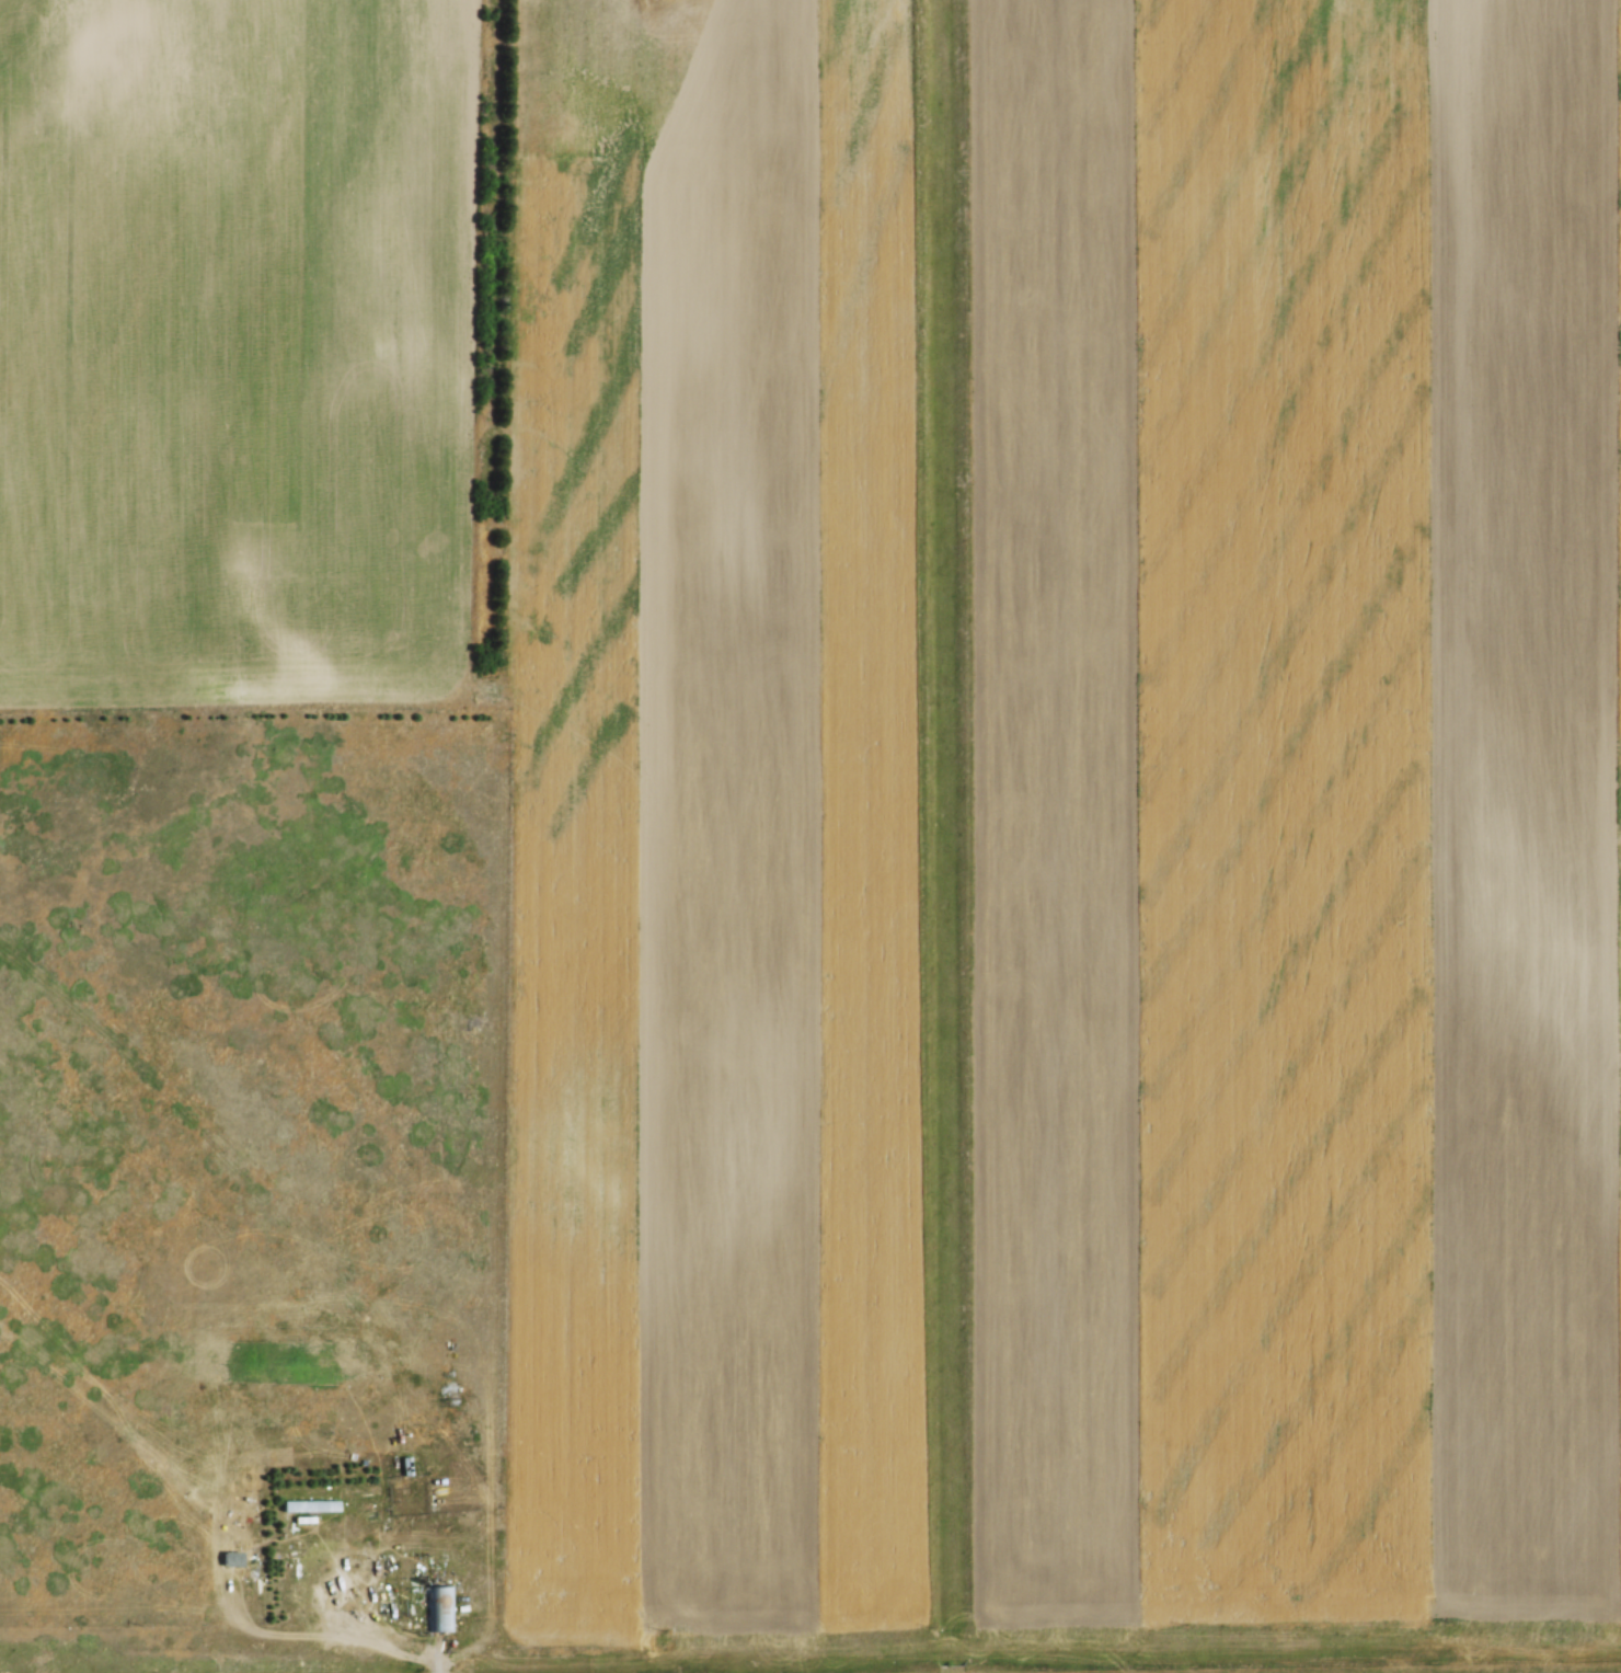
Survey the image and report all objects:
crop: (1292, 802)
building: (310, 1504)
building: (438, 1606)

